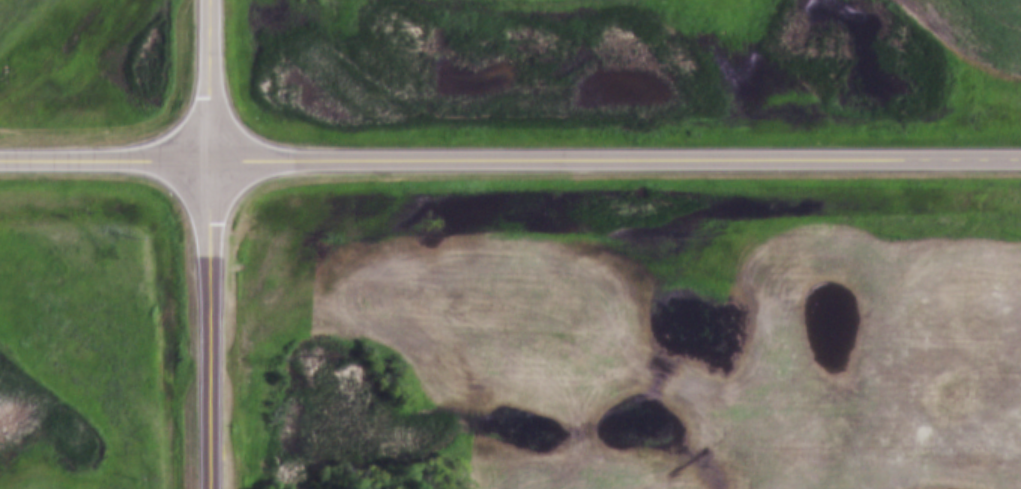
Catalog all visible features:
road: (510, 160)
road: (209, 244)

